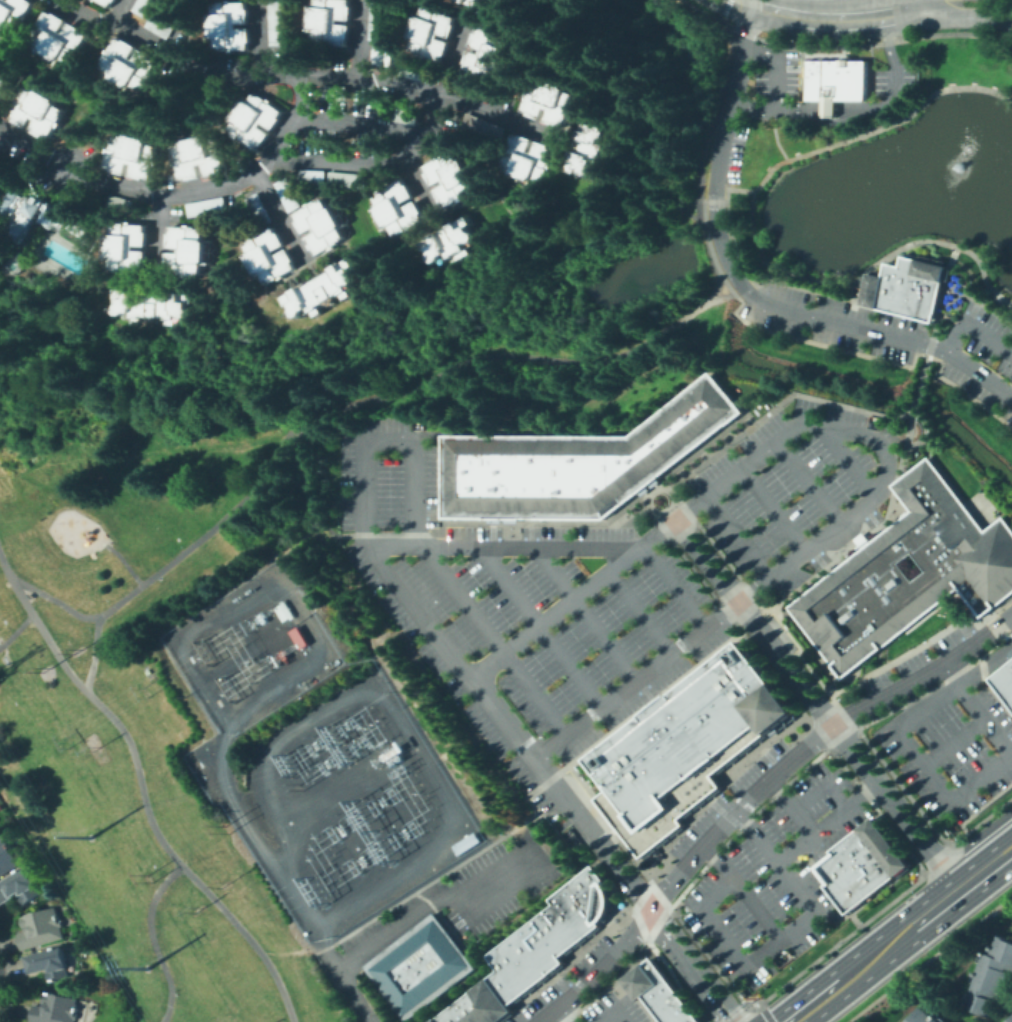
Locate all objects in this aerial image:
building: (101, 0)
road: (744, 1)
road: (921, 1)
road: (922, 1)
road: (924, 1)
building: (113, 2)
building: (491, 5)
road: (729, 5)
building: (149, 7)
road: (724, 9)
road: (127, 10)
building: (16, 14)
road: (833, 15)
road: (965, 16)
building: (382, 21)
building: (334, 22)
building: (282, 23)
building: (235, 26)
building: (165, 27)
building: (434, 33)
road: (267, 39)
building: (63, 40)
road: (363, 42)
building: (493, 55)
building: (385, 56)
road: (777, 63)
building: (134, 66)
road: (300, 71)
road: (893, 71)
building: (419, 73)
building: (6, 80)
building: (835, 81)
building: (335, 93)
building: (553, 101)
road: (752, 106)
road: (788, 109)
building: (44, 110)
road: (811, 110)
road: (829, 110)
road: (848, 110)
building: (408, 117)
building: (257, 120)
road: (831, 120)
road: (363, 122)
building: (487, 127)
road: (881, 127)
building: (595, 149)
building: (136, 155)
building: (201, 156)
building: (532, 160)
road: (413, 164)
building: (314, 177)
building: (454, 178)
building: (349, 180)
road: (424, 186)
road: (733, 188)
road: (178, 192)
building: (240, 192)
building: (289, 195)
road: (711, 200)
building: (123, 204)
building: (208, 207)
building: (399, 209)
building: (261, 210)
road: (281, 212)
road: (685, 212)
building: (32, 213)
road: (540, 216)
building: (324, 225)
road: (161, 229)
building: (79, 231)
building: (454, 242)
building: (128, 248)
building: (24, 251)
building: (191, 251)
building: (270, 257)
road: (864, 268)
road: (743, 287)
building: (889, 287)
building: (324, 290)
building: (924, 291)
road: (728, 295)
building: (156, 305)
road: (935, 315)
road: (973, 326)
parking lot: (902, 338)
road: (467, 362)
road: (873, 439)
road: (904, 446)
road: (145, 454)
road: (846, 459)
building: (577, 463)
road: (809, 481)
road: (318, 496)
road: (775, 508)
park: (75, 522)
road: (739, 537)
road: (501, 549)
road: (372, 553)
road: (125, 562)
building: (984, 567)
building: (888, 573)
parking lot: (599, 576)
road: (676, 585)
building: (29, 596)
building: (286, 611)
road: (642, 611)
road: (587, 613)
road: (541, 627)
road: (17, 631)
building: (301, 638)
road: (496, 640)
power tower: (78, 649)
road: (94, 653)
building: (1010, 653)
road: (1002, 662)
road: (985, 664)
power tower: (44, 667)
road: (298, 674)
building: (1004, 682)
power tower: (143, 690)
building: (770, 697)
road: (818, 705)
building: (755, 708)
building: (674, 714)
building: (743, 717)
road: (399, 726)
parking lot: (945, 727)
building: (723, 733)
power tower: (63, 741)
road: (955, 743)
power tower: (94, 745)
building: (703, 748)
power substation: (313, 757)
building: (694, 764)
building: (680, 775)
building: (666, 786)
road: (141, 789)
road: (821, 789)
road: (962, 794)
road: (755, 795)
road: (328, 797)
building: (651, 802)
road: (790, 807)
road: (532, 816)
building: (629, 819)
park: (125, 822)
road: (827, 822)
building: (467, 842)
building: (884, 846)
building: (852, 848)
building: (7, 858)
parking lot: (766, 866)
building: (830, 867)
road: (986, 869)
building: (860, 880)
power tower: (222, 883)
building: (19, 888)
road: (635, 888)
road: (744, 890)
building: (592, 893)
road: (955, 893)
road: (888, 903)
building: (577, 908)
power tower: (197, 909)
building: (566, 917)
road: (409, 918)
building: (41, 928)
building: (555, 929)
road: (785, 934)
road: (896, 938)
road: (154, 940)
building: (543, 942)
road: (294, 952)
road: (327, 954)
building: (529, 954)
road: (929, 957)
building: (50, 964)
building: (515, 964)
building: (420, 966)
power tower: (145, 968)
building: (506, 972)
building: (645, 977)
building: (991, 979)
parking lot: (562, 983)
building: (502, 987)
building: (660, 991)
road: (814, 1001)
building: (487, 1002)
building: (57, 1009)
parking lot: (616, 1009)
building: (676, 1009)
building: (465, 1011)
road: (742, 1011)
road: (764, 1011)
road: (613, 1015)
building: (448, 1016)
road: (560, 1016)
building: (928, 1016)
road: (3, 1020)
building: (1011, 1021)

